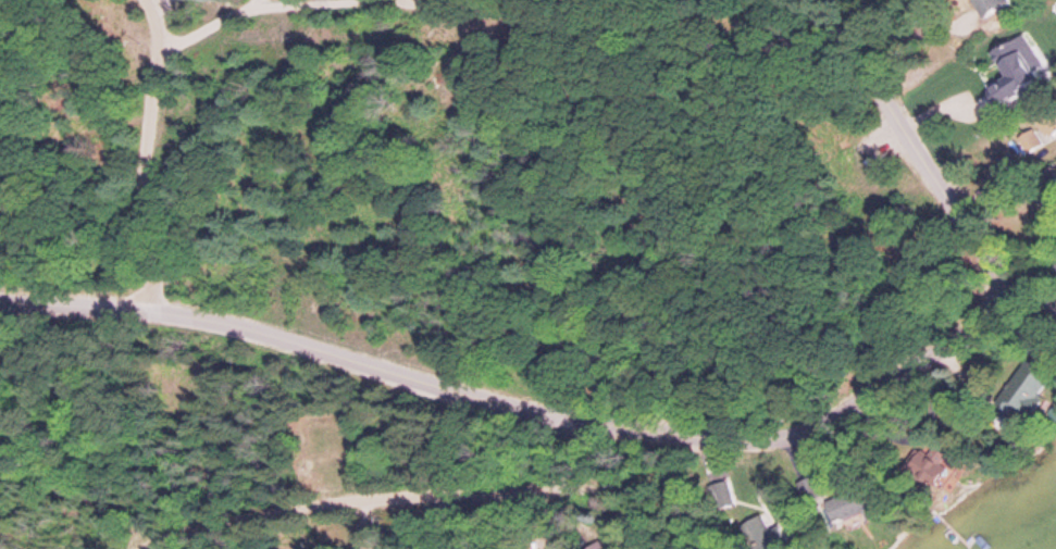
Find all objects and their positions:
road: (337, 3)
road: (148, 157)
road: (969, 334)
road: (289, 342)
building: (1020, 398)
building: (931, 476)
road: (368, 494)
building: (847, 509)

